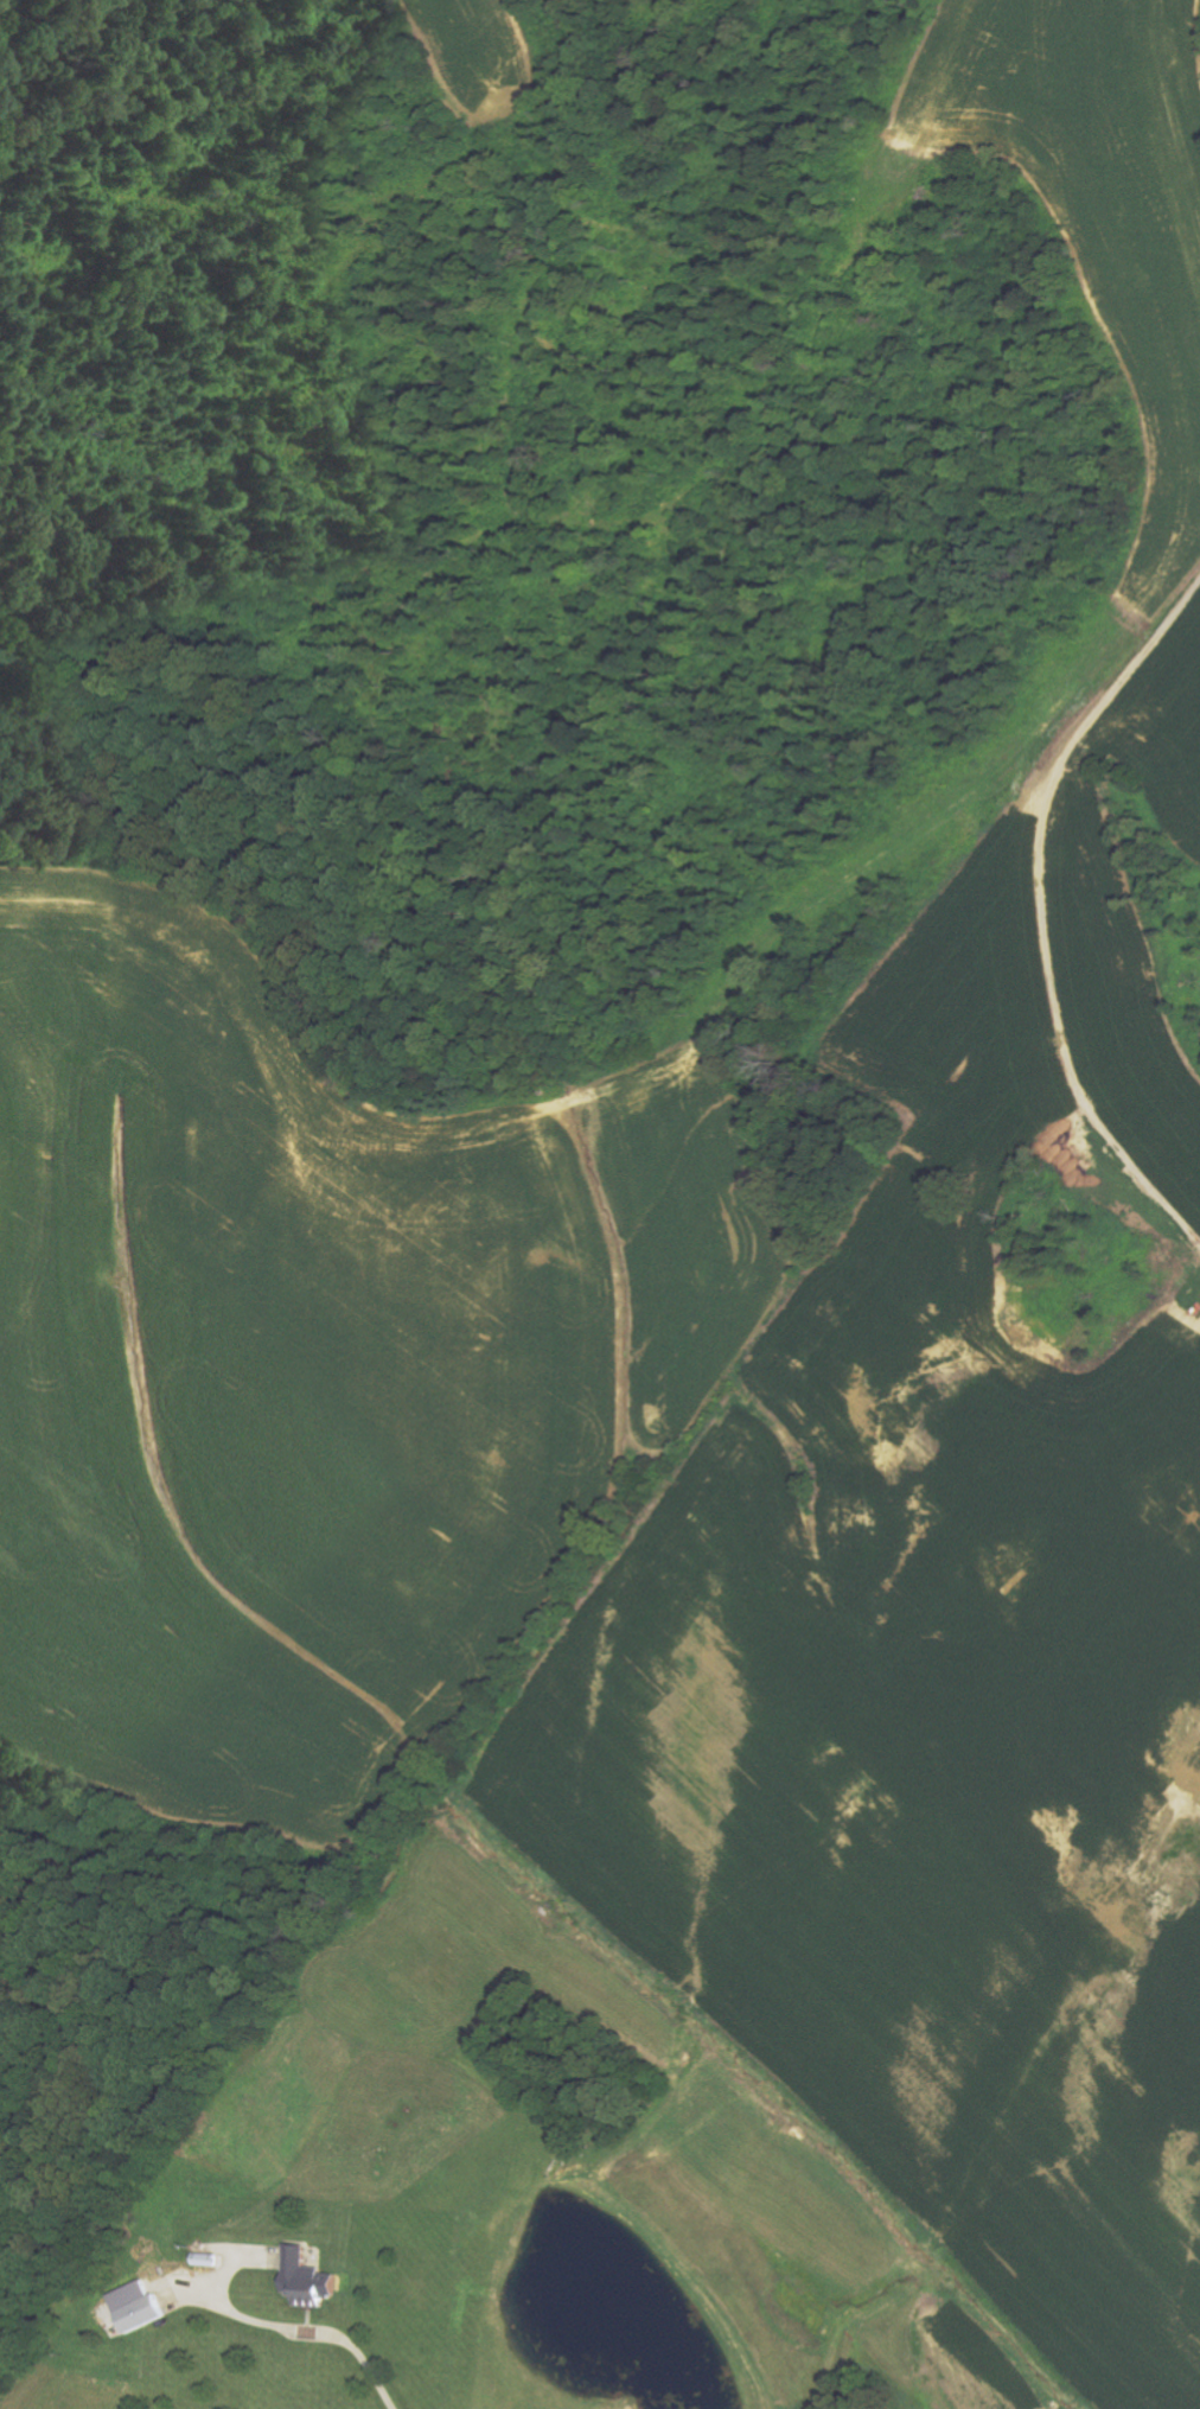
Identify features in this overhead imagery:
road: (1169, 158)
building: (307, 2280)
building: (138, 2307)
road: (319, 2331)

